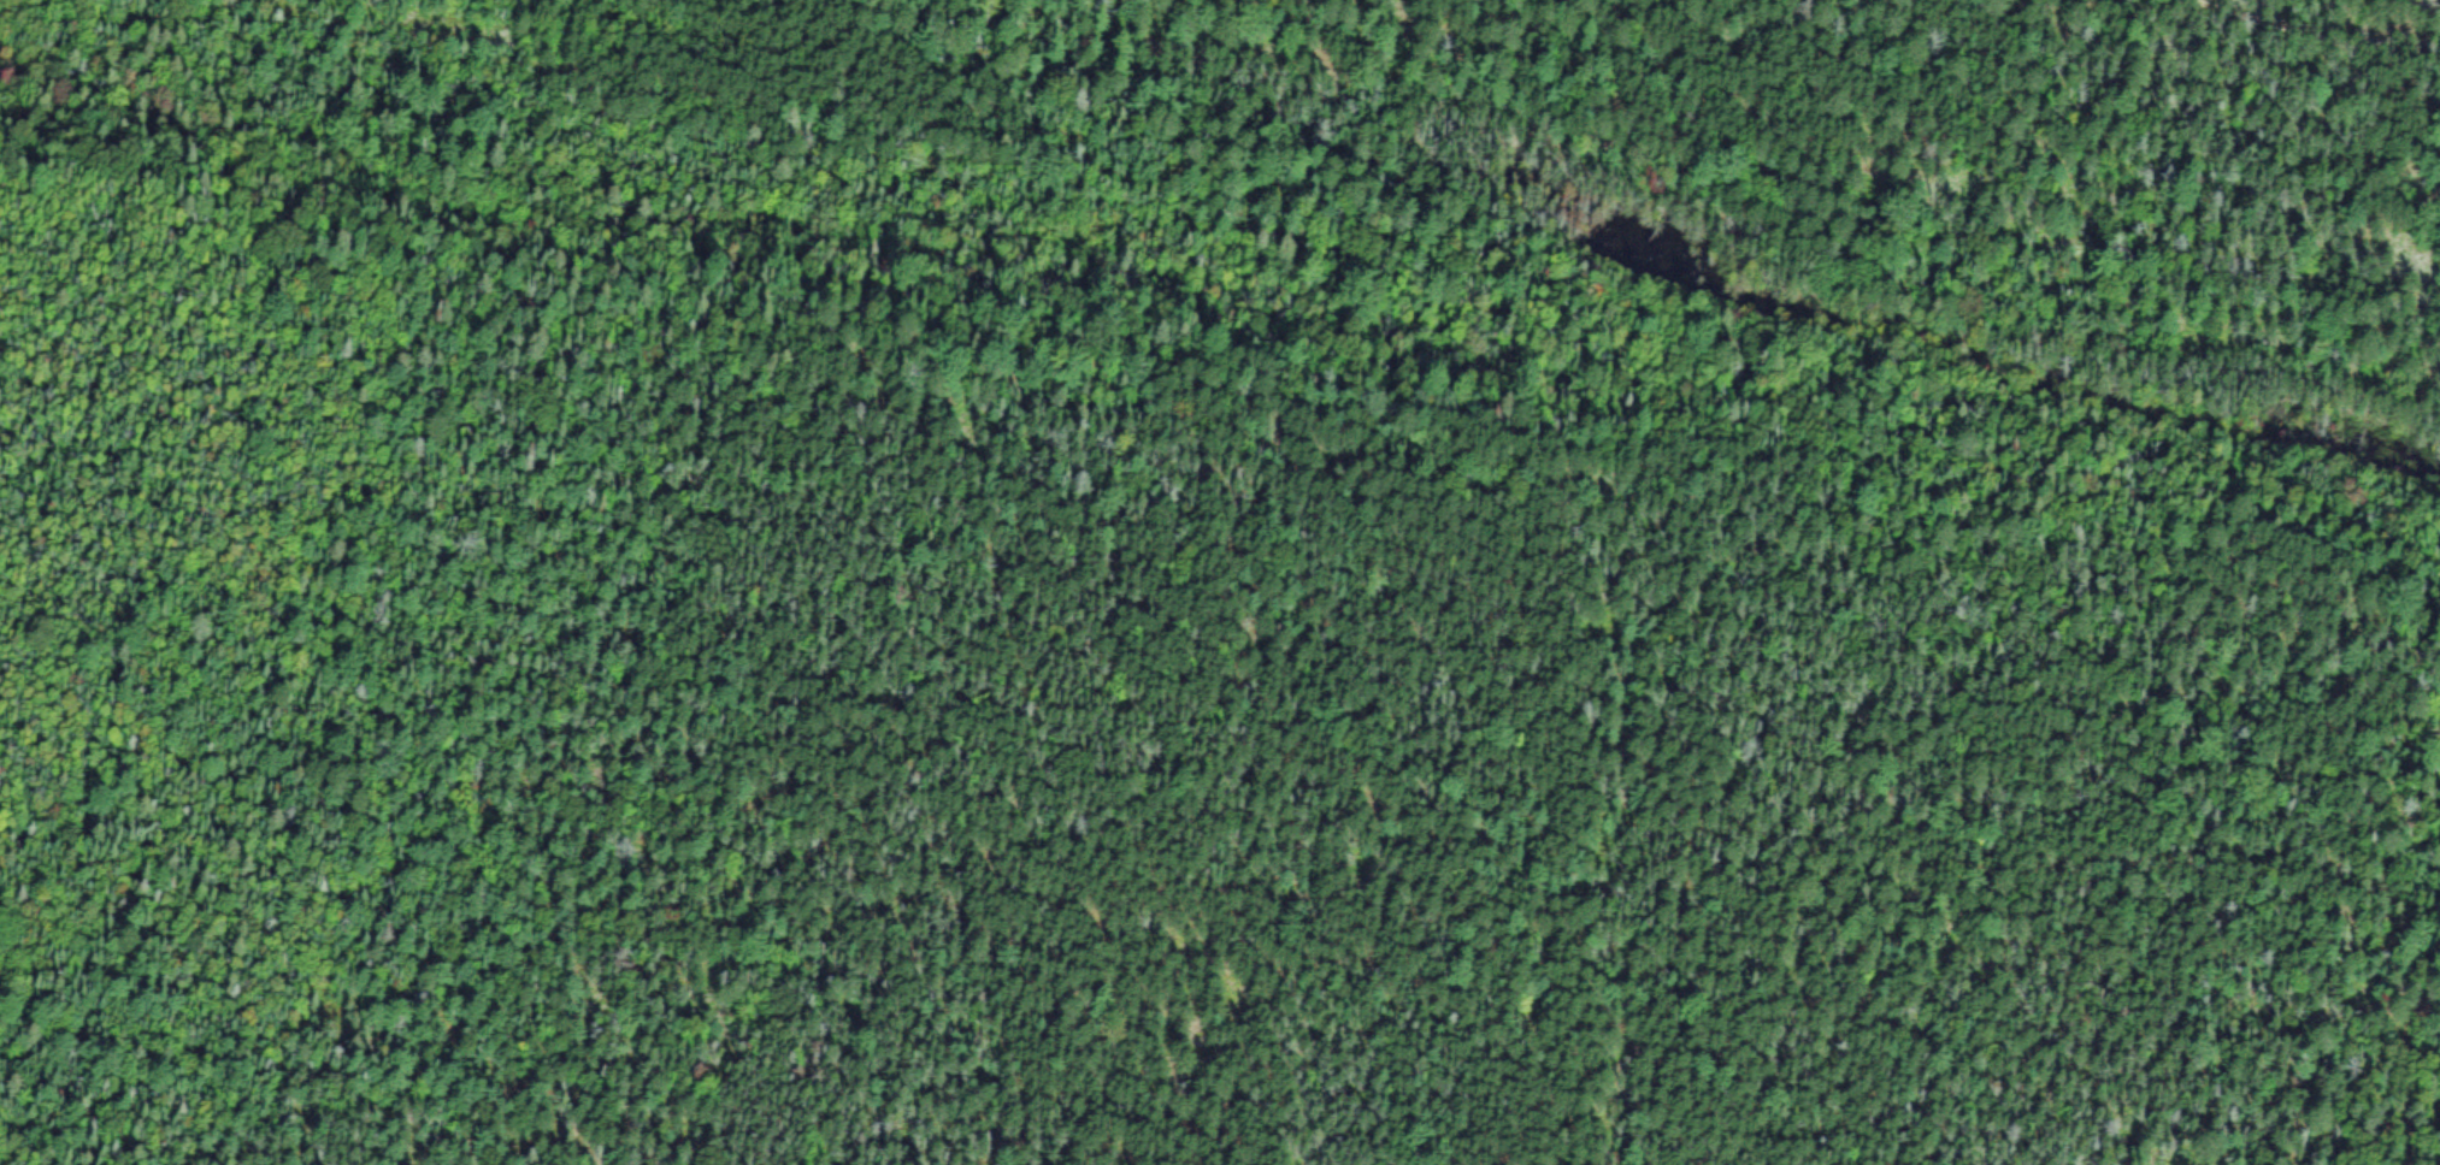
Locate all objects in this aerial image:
road: (2350, 12)

